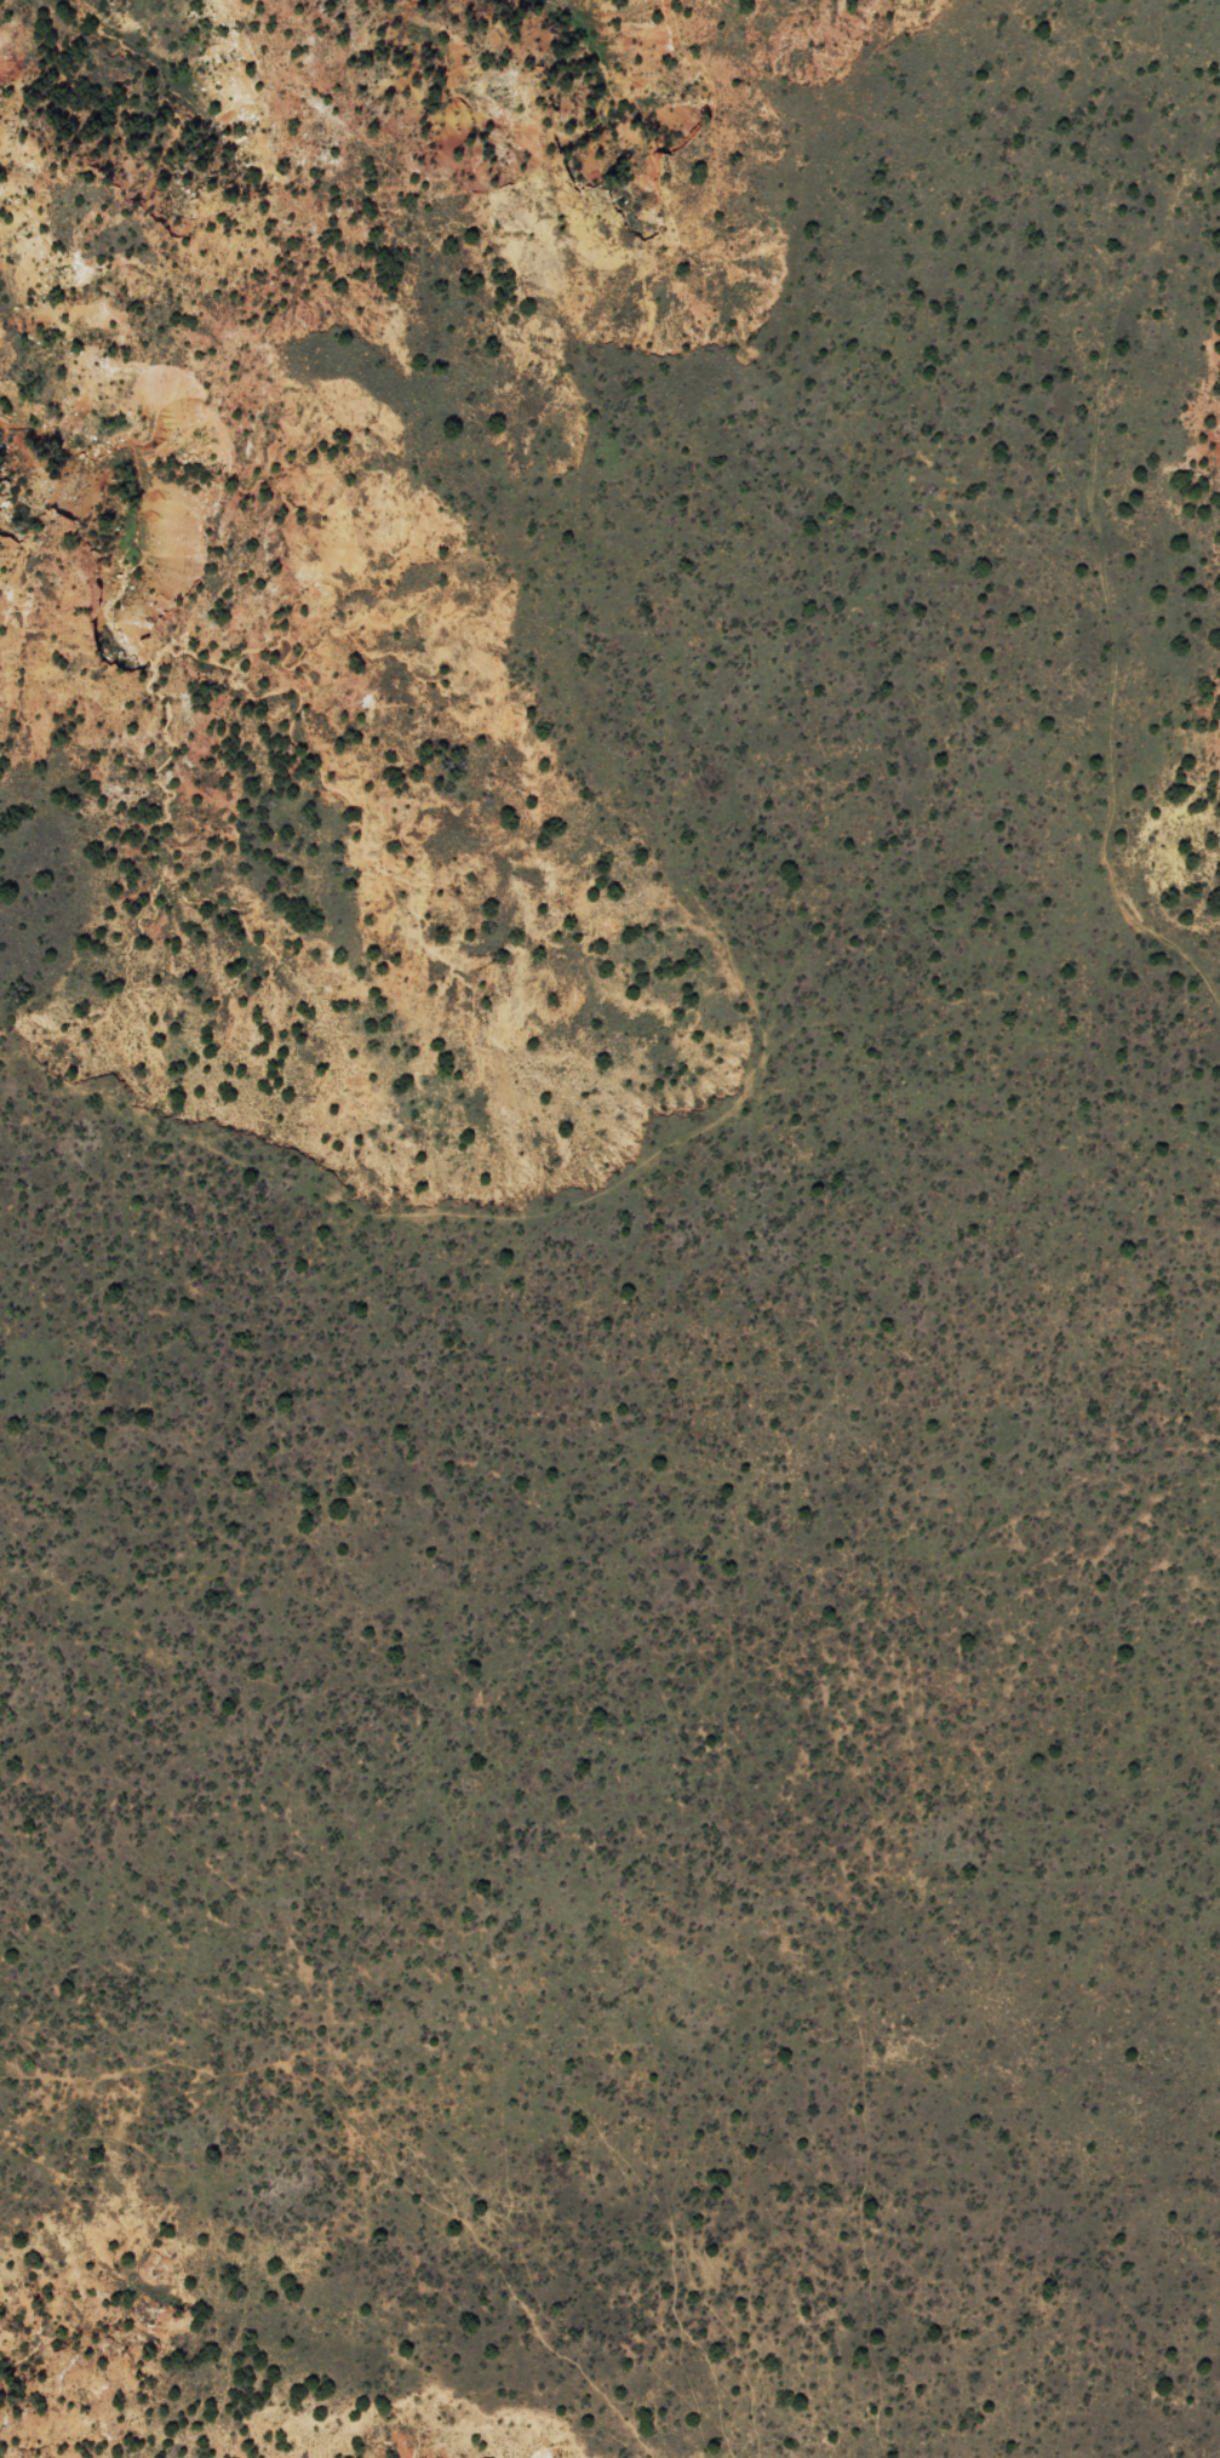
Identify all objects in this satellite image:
road: (1105, 521)
road: (645, 1960)

